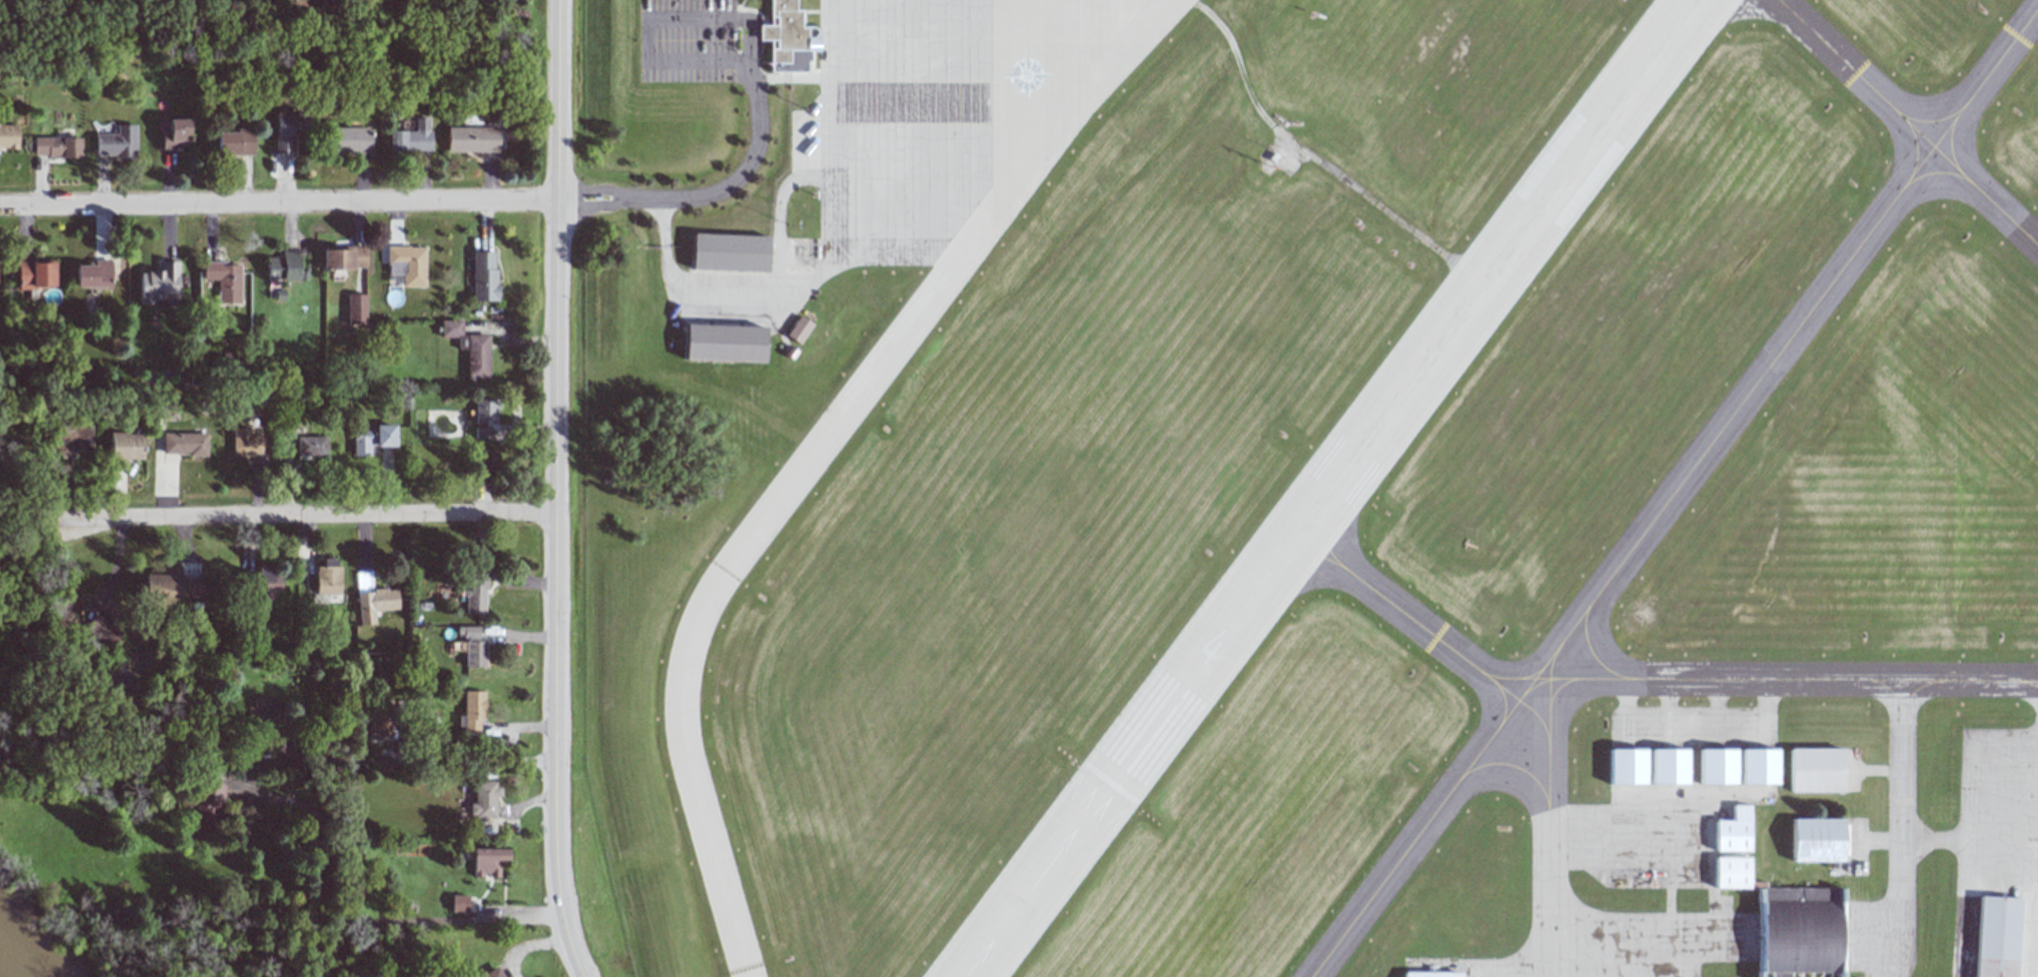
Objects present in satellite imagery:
building: (791, 36)
parking lot: (688, 41)
road: (752, 74)
airport apron: (930, 114)
airport taxiway: (1908, 122)
building: (288, 130)
building: (175, 134)
building: (8, 136)
building: (410, 138)
building: (471, 139)
building: (350, 140)
building: (234, 142)
building: (116, 143)
building: (57, 147)
road: (277, 204)
airport hangar: (735, 251)
building: (735, 251)
building: (343, 257)
building: (407, 264)
building: (283, 266)
building: (36, 274)
building: (94, 274)
building: (483, 276)
building: (224, 280)
building: (160, 283)
building: (803, 328)
airport hangar: (731, 341)
building: (731, 341)
building: (469, 348)
building: (794, 351)
building: (484, 411)
building: (289, 430)
building: (73, 439)
building: (373, 439)
building: (246, 442)
building: (185, 443)
building: (125, 446)
building: (311, 446)
airport taxiway: (816, 449)
building: (487, 466)
road: (555, 475)
airport: (1314, 486)
airport runway: (1331, 488)
airport taxiway: (1674, 491)
road: (277, 517)
building: (327, 577)
building: (267, 583)
building: (170, 588)
building: (474, 592)
building: (372, 599)
airport taxiway: (1408, 615)
building: (103, 629)
building: (471, 646)
airport taxiway: (1786, 676)
building: (472, 711)
building: (261, 715)
building: (377, 723)
road: (419, 761)
building: (1665, 763)
building: (1712, 766)
building: (1622, 767)
building: (1754, 767)
building: (1811, 769)
building: (484, 800)
building: (206, 808)
building: (1729, 831)
airport apron: (1649, 835)
building: (1813, 840)
building: (487, 861)
building: (459, 903)
airport hangar: (1788, 922)
building: (1788, 922)
airport apron: (1604, 928)
airport hangar: (1993, 937)
building: (1993, 937)
road: (382, 950)
road: (566, 963)
building: (490, 973)
airport hangar: (1432, 974)
building: (1432, 974)

